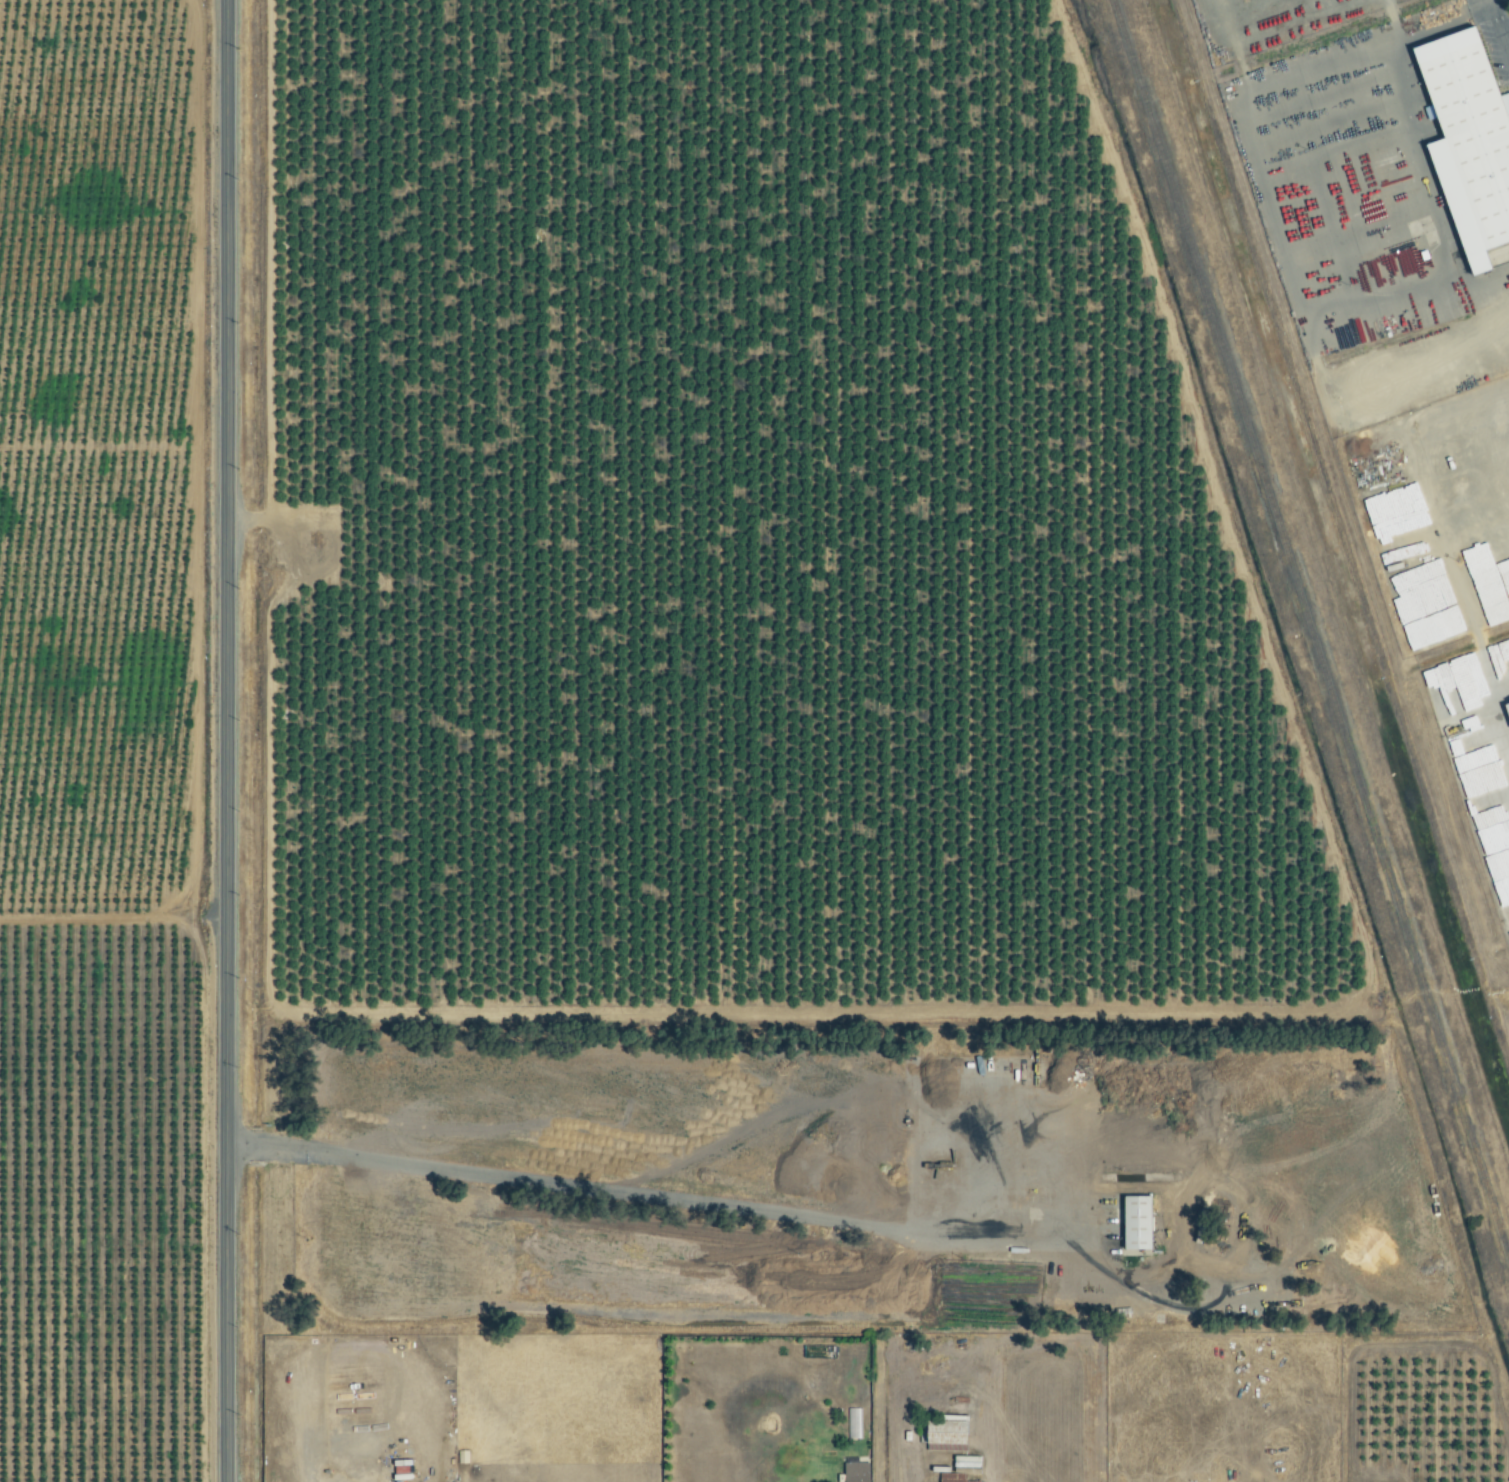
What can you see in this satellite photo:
road: (1487, 1)
road: (1500, 20)
building: (1466, 142)
road: (1281, 177)
building: (1418, 454)
road: (266, 523)
building: (1502, 584)
building: (1418, 607)
railway: (1310, 632)
road: (226, 741)
building: (1470, 759)
building: (1500, 885)
road: (652, 1199)
building: (1132, 1223)
road: (953, 1388)
building: (942, 1434)
building: (853, 1472)
road: (875, 1480)

